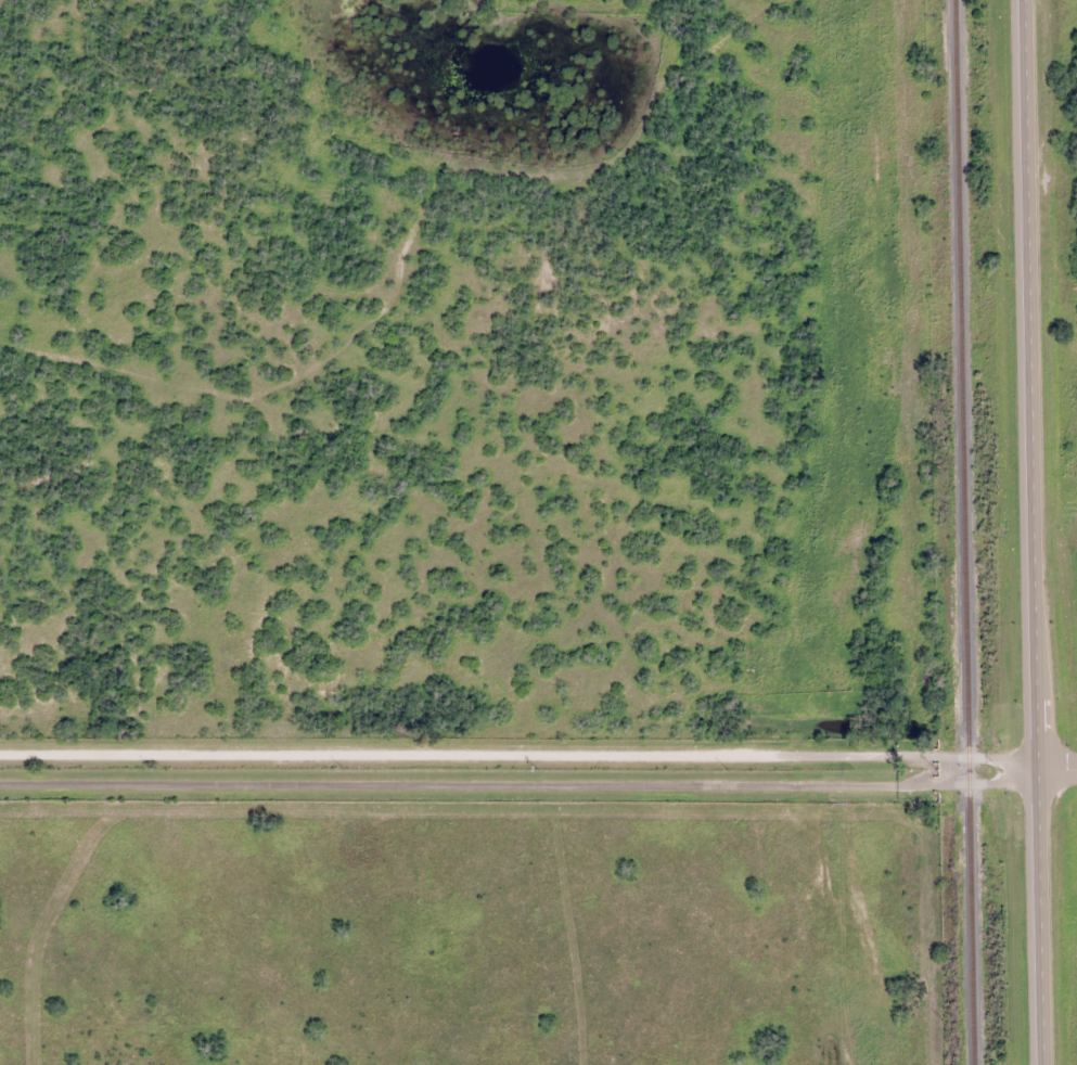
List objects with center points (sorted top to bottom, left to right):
road: (913, 394)
railway: (966, 531)
road: (1037, 532)
road: (521, 759)
road: (1060, 770)
road: (522, 787)

